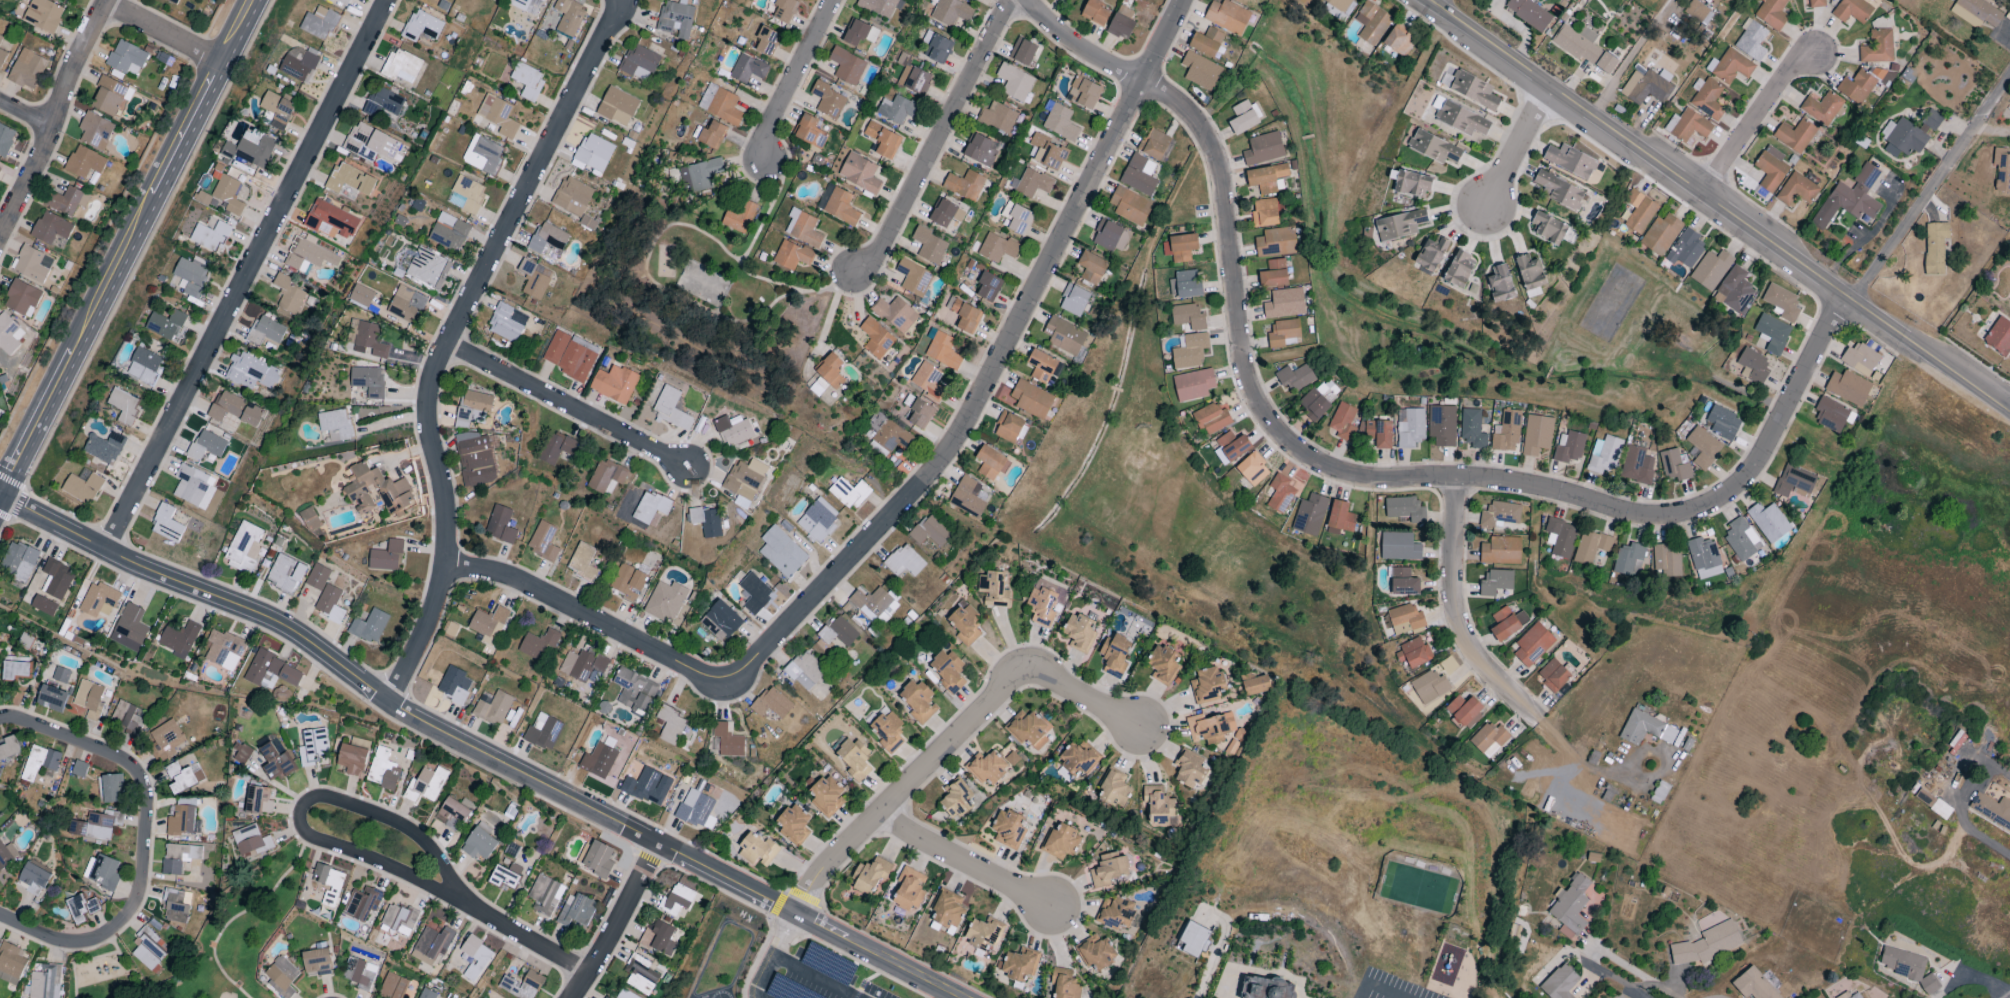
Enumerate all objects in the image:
building: (542, 0)
building: (971, 0)
building: (1236, 0)
building: (172, 1)
building: (340, 2)
building: (1304, 2)
road: (1434, 3)
building: (1815, 3)
building: (523, 5)
building: (878, 6)
building: (784, 10)
building: (1852, 10)
building: (950, 12)
building: (1094, 12)
building: (1695, 12)
building: (1529, 13)
building: (1771, 13)
building: (1976, 13)
building: (43, 15)
building: (568, 16)
building: (1227, 17)
building: (675, 19)
building: (1121, 22)
building: (318, 23)
building: (1371, 23)
building: (421, 26)
road: (164, 31)
building: (859, 33)
building: (0, 38)
building: (1399, 40)
building: (1751, 40)
building: (766, 41)
building: (1206, 42)
building: (937, 47)
building: (1877, 47)
building: (1584, 48)
building: (1022, 51)
building: (2, 57)
road: (1630, 57)
building: (126, 58)
building: (638, 62)
building: (297, 64)
building: (846, 66)
building: (1729, 66)
building: (401, 67)
building: (27, 69)
building: (747, 69)
building: (1200, 71)
building: (912, 77)
road: (791, 78)
building: (527, 80)
building: (1014, 82)
building: (1863, 84)
building: (1646, 87)
building: (1473, 90)
building: (1083, 93)
building: (109, 95)
building: (1707, 98)
building: (827, 100)
building: (382, 103)
building: (719, 104)
building: (617, 107)
building: (1821, 108)
building: (896, 109)
building: (277, 110)
road: (26, 113)
building: (498, 115)
building: (997, 117)
road: (55, 118)
building: (1242, 118)
building: (1461, 119)
building: (1060, 123)
road: (1757, 123)
building: (1689, 126)
building: (95, 131)
building: (809, 132)
building: (1908, 134)
building: (711, 135)
building: (1794, 136)
road: (936, 138)
building: (5, 139)
building: (882, 140)
building: (369, 143)
building: (1153, 144)
road: (1514, 146)
building: (1433, 147)
building: (250, 149)
building: (1263, 149)
building: (981, 150)
building: (593, 153)
building: (1048, 153)
building: (482, 155)
building: (1570, 161)
building: (84, 162)
building: (1770, 169)
building: (2001, 169)
building: (859, 173)
building: (701, 174)
building: (1138, 175)
building: (1266, 178)
building: (350, 180)
building: (1031, 183)
building: (1412, 183)
building: (964, 185)
building: (1797, 190)
building: (1558, 191)
road: (1934, 192)
building: (228, 194)
building: (572, 196)
building: (1848, 199)
building: (66, 201)
building: (213, 203)
road: (1717, 205)
building: (1129, 206)
building: (840, 207)
building: (1638, 211)
building: (1267, 212)
building: (946, 216)
building: (739, 217)
building: (1016, 218)
building: (330, 220)
building: (1400, 225)
building: (50, 228)
building: (802, 228)
building: (1548, 228)
building: (448, 232)
building: (1660, 234)
building: (210, 236)
building: (1109, 236)
building: (547, 238)
building: (1275, 242)
road: (126, 243)
building: (929, 246)
building: (1180, 247)
building: (1934, 247)
building: (996, 248)
building: (1685, 249)
building: (308, 254)
building: (1431, 254)
building: (791, 255)
building: (32, 264)
building: (428, 268)
building: (1091, 268)
building: (1459, 269)
building: (1710, 270)
building: (191, 274)
road: (245, 274)
building: (1273, 274)
building: (1530, 274)
building: (913, 277)
building: (534, 278)
building: (1500, 284)
building: (1184, 285)
building: (988, 286)
building: (1734, 291)
building: (287, 295)
building: (361, 295)
building: (21, 298)
building: (1074, 300)
building: (1781, 302)
building: (1284, 303)
building: (2009, 303)
building: (406, 304)
road: (832, 310)
building: (895, 314)
building: (964, 315)
building: (518, 317)
building: (1187, 317)
building: (504, 324)
building: (166, 325)
building: (265, 331)
building: (1283, 333)
building: (1772, 333)
building: (9, 335)
building: (1064, 336)
building: (1999, 337)
road: (449, 339)
building: (875, 339)
building: (367, 340)
building: (943, 351)
building: (1190, 351)
building: (568, 356)
building: (1860, 358)
building: (144, 366)
building: (1041, 366)
building: (1752, 366)
building: (830, 371)
building: (250, 372)
building: (1294, 377)
building: (927, 380)
building: (368, 381)
building: (614, 384)
building: (1193, 385)
building: (1847, 387)
building: (1031, 400)
building: (1313, 405)
road: (1607, 405)
building: (124, 406)
building: (225, 406)
road: (568, 406)
building: (472, 409)
building: (671, 409)
building: (920, 414)
building: (250, 415)
building: (1832, 415)
building: (1210, 419)
building: (1342, 422)
building: (1722, 423)
building: (336, 424)
building: (1441, 426)
building: (1008, 427)
building: (1409, 427)
building: (1471, 429)
building: (732, 430)
building: (1506, 432)
building: (886, 433)
building: (1379, 433)
building: (1536, 435)
building: (206, 445)
building: (1232, 446)
building: (103, 447)
building: (556, 447)
building: (1568, 447)
building: (1702, 447)
building: (1603, 454)
building: (475, 459)
building: (990, 463)
building: (1636, 465)
building: (1673, 466)
building: (1252, 469)
road: (1348, 474)
building: (605, 475)
building: (744, 481)
building: (1793, 481)
building: (193, 486)
building: (81, 487)
building: (376, 488)
building: (850, 493)
building: (1279, 493)
road: (913, 495)
building: (968, 497)
building: (650, 507)
building: (1403, 510)
building: (1309, 514)
building: (1499, 514)
building: (1340, 516)
building: (311, 519)
building: (706, 520)
building: (817, 521)
building: (1768, 522)
building: (166, 524)
building: (500, 525)
building: (930, 531)
building: (1560, 537)
building: (1740, 539)
building: (542, 541)
building: (244, 546)
building: (1398, 547)
building: (1590, 547)
road: (1817, 547)
building: (1500, 551)
building: (781, 552)
building: (386, 557)
building: (1703, 558)
building: (1628, 560)
building: (18, 561)
building: (582, 562)
building: (903, 562)
building: (1666, 562)
building: (285, 574)
building: (317, 577)
building: (56, 579)
building: (628, 582)
building: (1403, 582)
building: (1494, 582)
building: (992, 588)
building: (753, 592)
building: (98, 600)
building: (665, 601)
building: (1042, 602)
building: (330, 604)
building: (43, 605)
road: (1457, 614)
building: (1405, 619)
building: (720, 621)
building: (1507, 623)
building: (488, 624)
building: (965, 624)
building: (369, 626)
building: (129, 628)
building: (1078, 632)
building: (835, 636)
building: (179, 638)
building: (538, 643)
building: (1532, 645)
building: (224, 650)
building: (1413, 653)
building: (1114, 655)
building: (580, 664)
building: (1161, 664)
building: (14, 670)
building: (271, 670)
building: (804, 671)
building: (947, 671)
building: (1552, 675)
building: (60, 676)
building: (454, 685)
building: (1207, 685)
building: (1255, 685)
building: (1429, 687)
building: (634, 690)
building: (52, 698)
building: (88, 699)
building: (917, 701)
building: (771, 703)
building: (493, 708)
building: (1464, 711)
building: (125, 718)
building: (670, 725)
building: (1210, 728)
building: (1028, 729)
building: (1645, 729)
building: (888, 731)
building: (543, 732)
building: (1489, 739)
building: (166, 740)
building: (727, 740)
road: (951, 745)
building: (9, 747)
building: (312, 747)
road: (475, 749)
building: (243, 755)
building: (353, 756)
building: (1078, 757)
building: (598, 759)
building: (855, 759)
building: (1011, 759)
building: (39, 762)
building: (275, 762)
road: (1578, 762)
building: (79, 768)
building: (986, 768)
building: (0, 769)
building: (382, 770)
building: (1189, 771)
building: (179, 778)
building: (425, 784)
building: (647, 786)
building: (111, 788)
building: (1114, 789)
building: (826, 796)
building: (258, 800)
building: (956, 800)
building: (1157, 803)
building: (694, 808)
road: (1962, 808)
road: (366, 811)
building: (1991, 811)
building: (452, 815)
building: (181, 821)
building: (793, 823)
building: (94, 825)
building: (1007, 829)
road: (143, 838)
building: (251, 841)
building: (479, 842)
building: (1061, 842)
building: (755, 848)
building: (178, 857)
building: (595, 858)
road: (648, 859)
road: (964, 863)
building: (1108, 870)
building: (102, 872)
building: (505, 876)
building: (33, 878)
building: (328, 882)
building: (909, 889)
park: (1418, 889)
road: (789, 890)
building: (544, 895)
building: (676, 900)
building: (362, 903)
building: (174, 906)
building: (1569, 906)
building: (80, 908)
road: (755, 909)
building: (575, 910)
building: (947, 910)
building: (1116, 913)
building: (399, 920)
road: (617, 920)
building: (983, 934)
road: (523, 935)
building: (658, 937)
building: (1196, 940)
building: (1707, 944)
building: (431, 945)
building: (148, 948)
building: (1097, 953)
road: (902, 954)
road: (776, 955)
building: (475, 958)
building: (316, 962)
building: (11, 963)
building: (1903, 964)
building: (1019, 965)
building: (359, 973)
building: (640, 975)
building: (281, 976)
road: (815, 977)
parking lot: (819, 980)
building: (45, 982)
road: (1628, 982)
building: (1559, 983)
building: (1063, 984)
building: (1928, 984)
building: (522, 985)
building: (1753, 985)
building: (392, 986)
building: (1267, 988)
road: (1368, 993)
building: (425, 994)
building: (1844, 994)
building: (624, 995)
building: (604, 997)

